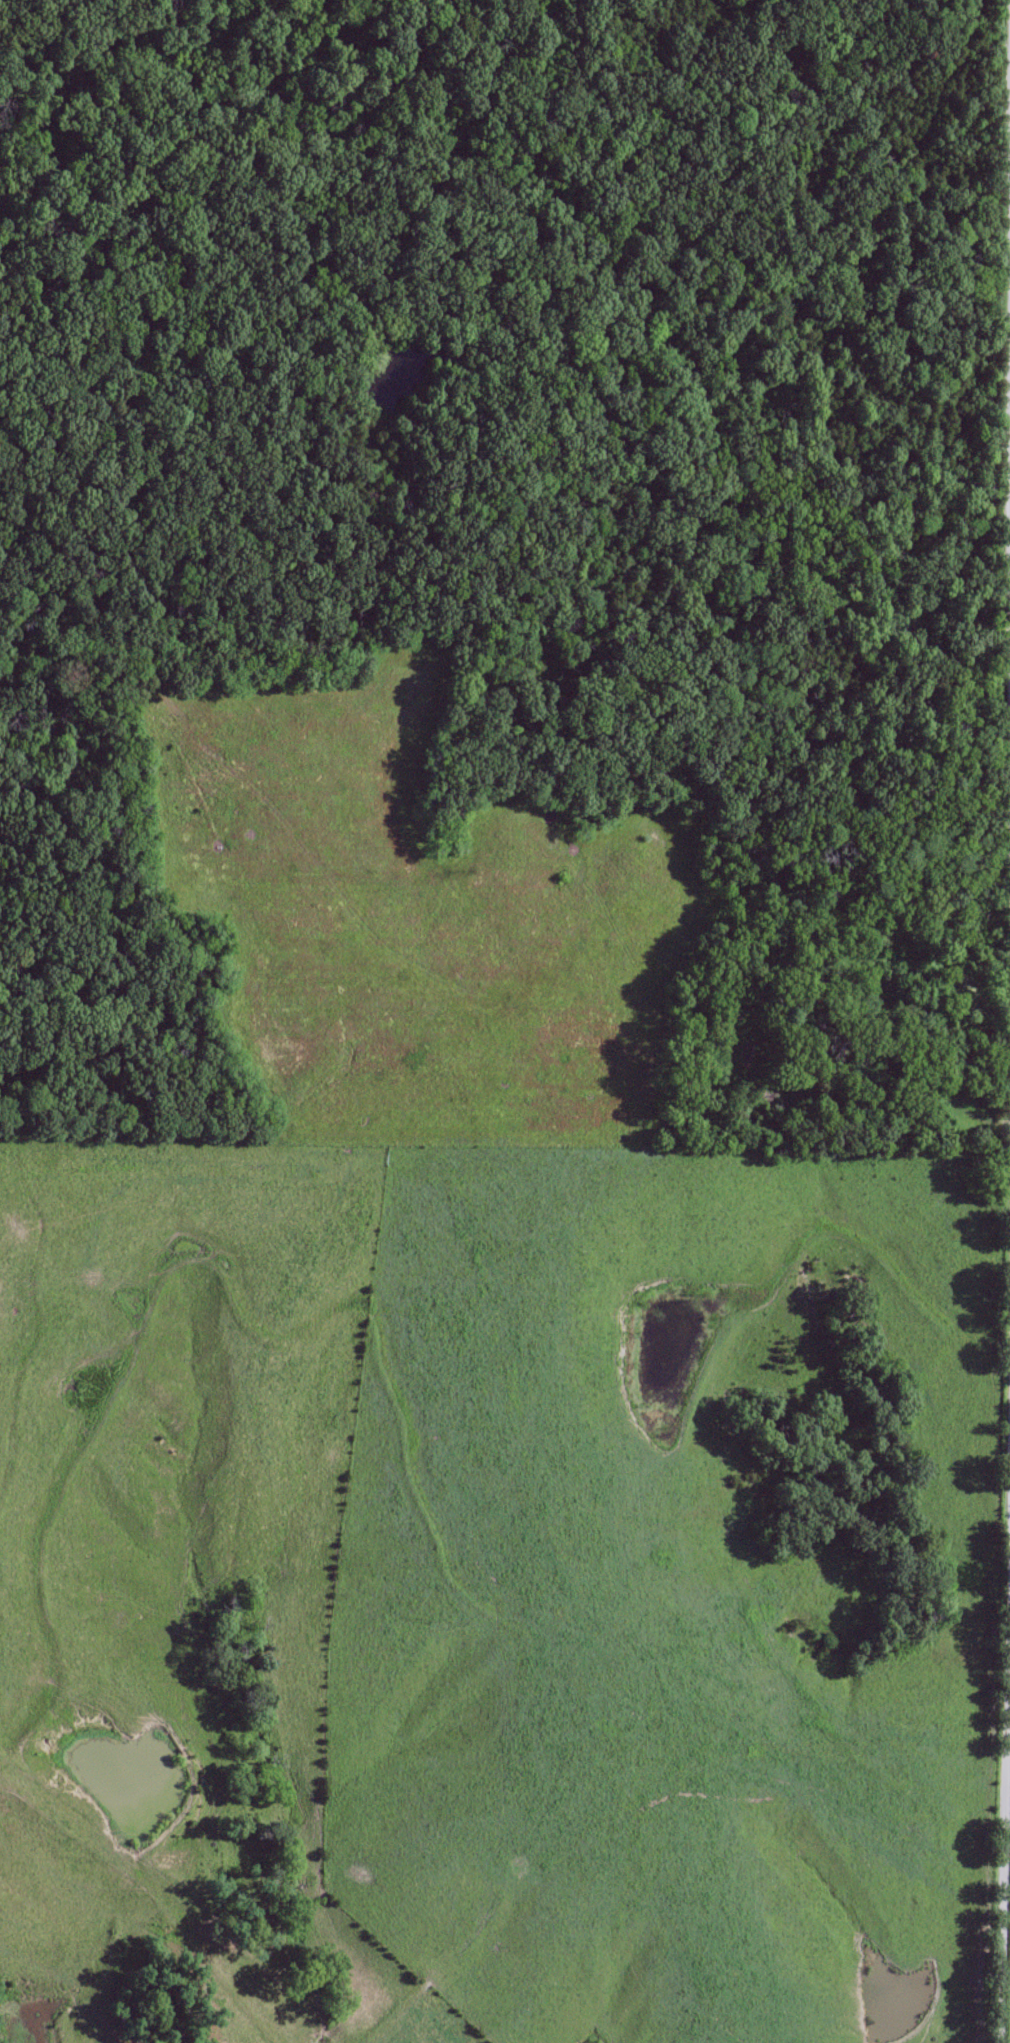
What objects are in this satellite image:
road: (1006, 1754)

